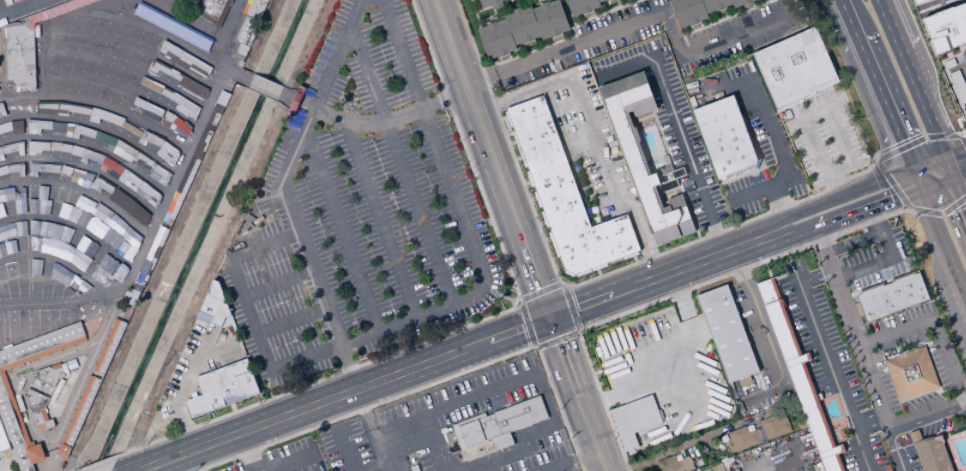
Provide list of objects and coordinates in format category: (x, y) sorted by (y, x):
building: (175, 0)
building: (600, 0)
building: (701, 0)
building: (740, 2)
building: (918, 2)
building: (490, 3)
building: (715, 4)
road: (18, 6)
building: (103, 6)
building: (581, 6)
building: (56, 8)
building: (253, 8)
building: (128, 9)
building: (211, 10)
building: (689, 11)
road: (604, 12)
road: (475, 14)
building: (146, 15)
road: (646, 17)
road: (231, 18)
building: (550, 18)
road: (846, 18)
building: (62, 19)
road: (721, 19)
building: (86, 20)
building: (162, 21)
road: (569, 21)
building: (109, 23)
building: (521, 24)
road: (40, 27)
building: (946, 28)
road: (149, 29)
building: (189, 29)
building: (244, 29)
building: (128, 30)
building: (1, 33)
building: (54, 36)
building: (71, 37)
building: (496, 38)
building: (149, 39)
building: (88, 40)
building: (201, 42)
road: (131, 44)
building: (108, 45)
building: (168, 49)
road: (531, 50)
building: (238, 51)
building: (212, 52)
building: (19, 54)
building: (133, 55)
road: (223, 55)
building: (55, 58)
building: (78, 60)
building: (949, 63)
building: (100, 64)
road: (127, 64)
building: (195, 65)
building: (796, 67)
road: (964, 67)
road: (230, 68)
building: (1, 69)
building: (163, 69)
building: (121, 71)
road: (910, 79)
building: (62, 80)
building: (144, 82)
building: (184, 82)
road: (266, 83)
building: (96, 84)
road: (123, 85)
building: (958, 85)
building: (228, 87)
building: (198, 89)
building: (166, 92)
road: (523, 93)
building: (122, 94)
road: (293, 95)
road: (296, 97)
road: (307, 101)
building: (294, 102)
road: (823, 102)
road: (883, 102)
building: (141, 104)
building: (184, 104)
building: (45, 106)
building: (71, 108)
building: (2, 109)
building: (963, 112)
building: (163, 113)
building: (104, 116)
road: (503, 117)
building: (211, 120)
road: (390, 120)
building: (964, 122)
building: (37, 125)
road: (94, 125)
road: (677, 125)
building: (12, 126)
building: (61, 126)
building: (131, 128)
building: (181, 128)
building: (82, 131)
road: (509, 133)
road: (773, 134)
building: (724, 136)
road: (594, 137)
building: (105, 139)
building: (149, 139)
road: (662, 140)
road: (962, 140)
road: (512, 142)
road: (957, 142)
building: (54, 145)
building: (36, 146)
road: (90, 146)
building: (65, 147)
building: (12, 148)
building: (125, 148)
building: (76, 150)
building: (0, 151)
building: (169, 152)
road: (918, 152)
building: (198, 153)
building: (221, 153)
road: (954, 153)
road: (960, 153)
road: (566, 155)
building: (90, 156)
road: (491, 158)
road: (518, 158)
traffic signals: (944, 158)
building: (644, 159)
road: (878, 159)
building: (142, 160)
building: (545, 161)
road: (400, 162)
road: (928, 163)
building: (110, 165)
road: (85, 167)
building: (16, 168)
building: (41, 168)
road: (948, 168)
building: (3, 169)
building: (65, 169)
traffic signals: (913, 169)
road: (285, 170)
road: (751, 170)
building: (160, 174)
road: (674, 174)
building: (80, 175)
road: (959, 175)
building: (128, 178)
traffic signals: (952, 178)
road: (917, 179)
road: (527, 182)
road: (172, 183)
road: (937, 183)
road: (895, 184)
building: (101, 185)
road: (590, 186)
road: (834, 186)
road: (584, 187)
building: (181, 188)
road: (80, 189)
traffic signals: (922, 189)
building: (149, 193)
road: (848, 193)
road: (959, 194)
road: (937, 196)
building: (122, 198)
building: (14, 199)
road: (777, 201)
building: (39, 202)
road: (870, 207)
road: (26, 209)
road: (687, 209)
road: (909, 209)
parking lot: (357, 210)
building: (1, 211)
building: (140, 213)
road: (460, 215)
road: (380, 219)
road: (874, 221)
road: (73, 225)
road: (342, 228)
road: (773, 228)
road: (787, 228)
building: (12, 230)
road: (804, 232)
road: (642, 233)
road: (776, 236)
building: (56, 242)
building: (593, 242)
road: (746, 242)
road: (943, 242)
road: (887, 245)
building: (7, 248)
building: (151, 256)
road: (633, 258)
road: (55, 259)
road: (597, 271)
building: (60, 275)
road: (814, 277)
road: (584, 281)
road: (277, 282)
road: (639, 282)
road: (562, 287)
road: (837, 287)
road: (941, 288)
road: (677, 292)
road: (499, 294)
building: (891, 296)
building: (129, 297)
road: (540, 297)
road: (680, 301)
road: (519, 304)
building: (213, 306)
road: (568, 310)
building: (122, 312)
road: (249, 313)
traffic signals: (548, 317)
road: (290, 319)
road: (928, 319)
road: (528, 325)
road: (448, 331)
road: (577, 331)
building: (726, 333)
road: (765, 334)
road: (556, 338)
building: (109, 346)
road: (535, 346)
road: (346, 367)
road: (830, 373)
building: (911, 373)
building: (48, 375)
building: (799, 376)
road: (428, 385)
building: (39, 388)
road: (183, 388)
building: (222, 388)
road: (341, 393)
road: (576, 393)
road: (620, 394)
building: (6, 396)
road: (456, 401)
road: (958, 401)
road: (547, 404)
road: (881, 408)
road: (957, 410)
building: (80, 411)
building: (519, 415)
road: (918, 418)
building: (471, 419)
building: (634, 419)
road: (870, 421)
road: (548, 425)
building: (774, 426)
building: (488, 427)
building: (471, 434)
road: (932, 434)
building: (458, 436)
building: (741, 439)
road: (53, 440)
building: (501, 441)
building: (3, 442)
road: (433, 442)
road: (686, 443)
road: (344, 449)
building: (63, 451)
road: (247, 451)
building: (933, 455)
road: (51, 456)
parking lot: (286, 458)
road: (568, 460)
road: (290, 462)
building: (699, 462)
building: (669, 464)
building: (687, 464)
road: (371, 465)
building: (717, 467)

